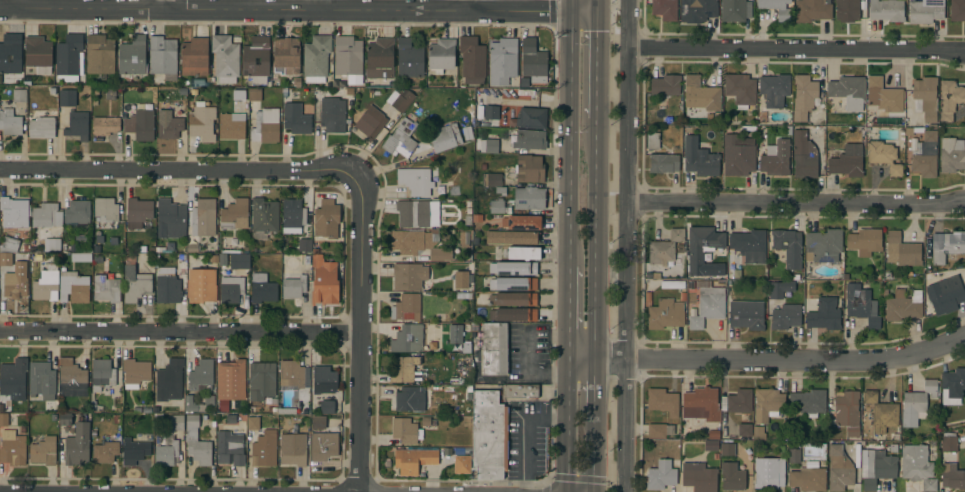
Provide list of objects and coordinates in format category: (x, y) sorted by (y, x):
road: (11, 4)
road: (169, 4)
road: (320, 4)
road: (469, 5)
road: (571, 6)
road: (596, 6)
road: (285, 8)
building: (664, 9)
building: (697, 10)
building: (735, 10)
building: (812, 10)
building: (849, 10)
building: (886, 10)
building: (957, 10)
building: (925, 11)
road: (583, 12)
building: (783, 15)
road: (798, 48)
building: (10, 54)
building: (37, 54)
building: (100, 54)
building: (68, 55)
building: (162, 55)
building: (286, 55)
building: (441, 55)
building: (132, 56)
building: (194, 57)
building: (225, 58)
building: (347, 58)
building: (379, 58)
building: (315, 59)
building: (409, 59)
building: (256, 60)
building: (472, 60)
building: (502, 61)
building: (532, 61)
road: (595, 66)
building: (297, 82)
building: (523, 83)
building: (665, 85)
building: (774, 89)
building: (740, 90)
building: (847, 92)
building: (110, 93)
building: (703, 94)
building: (19, 95)
building: (238, 95)
building: (254, 95)
building: (883, 96)
building: (803, 97)
building: (926, 97)
building: (66, 98)
building: (422, 99)
building: (949, 99)
building: (400, 100)
building: (434, 103)
building: (490, 112)
building: (332, 114)
building: (531, 118)
building: (296, 119)
building: (10, 122)
building: (202, 123)
building: (370, 123)
building: (77, 125)
building: (105, 125)
building: (140, 125)
building: (168, 125)
building: (231, 126)
building: (265, 126)
building: (42, 128)
building: (402, 138)
building: (444, 138)
road: (570, 139)
building: (529, 140)
building: (652, 141)
building: (489, 146)
building: (924, 155)
building: (951, 155)
building: (738, 156)
building: (804, 156)
building: (883, 157)
building: (699, 158)
building: (775, 158)
building: (846, 162)
building: (663, 163)
road: (177, 169)
building: (529, 169)
building: (417, 180)
building: (492, 180)
building: (500, 191)
building: (529, 198)
road: (797, 203)
building: (495, 206)
building: (108, 210)
building: (76, 212)
building: (14, 213)
building: (138, 213)
building: (412, 213)
building: (46, 215)
building: (234, 215)
building: (292, 216)
building: (203, 218)
building: (264, 218)
building: (476, 218)
building: (170, 219)
building: (326, 219)
building: (467, 221)
building: (522, 222)
building: (511, 237)
building: (463, 238)
road: (594, 239)
building: (475, 241)
building: (864, 241)
building: (418, 243)
building: (304, 244)
building: (9, 245)
building: (54, 245)
building: (749, 245)
building: (823, 245)
building: (946, 245)
road: (628, 246)
building: (701, 246)
building: (170, 247)
building: (788, 247)
building: (192, 249)
building: (31, 250)
building: (665, 250)
building: (902, 250)
building: (245, 251)
building: (252, 251)
building: (520, 253)
building: (37, 257)
building: (83, 257)
building: (475, 257)
building: (222, 260)
building: (239, 261)
building: (100, 264)
building: (513, 268)
building: (182, 272)
building: (11, 276)
building: (408, 276)
building: (471, 279)
building: (461, 280)
building: (324, 282)
building: (46, 284)
building: (135, 284)
building: (293, 284)
building: (513, 284)
building: (200, 285)
building: (73, 287)
building: (106, 287)
building: (779, 288)
building: (231, 289)
building: (262, 289)
building: (167, 290)
building: (945, 294)
building: (464, 296)
building: (513, 299)
building: (707, 304)
building: (859, 304)
building: (903, 305)
building: (406, 307)
road: (568, 312)
building: (663, 313)
building: (822, 313)
building: (512, 314)
building: (746, 315)
building: (785, 316)
road: (179, 331)
road: (358, 334)
building: (455, 334)
building: (407, 339)
building: (494, 349)
road: (767, 359)
building: (403, 368)
building: (135, 372)
building: (291, 373)
building: (13, 375)
building: (72, 375)
building: (101, 375)
building: (201, 376)
building: (169, 380)
building: (228, 380)
building: (261, 380)
building: (324, 380)
building: (42, 383)
road: (592, 385)
building: (952, 386)
building: (522, 390)
building: (409, 400)
building: (663, 401)
building: (737, 401)
building: (808, 402)
building: (701, 403)
building: (191, 404)
building: (766, 404)
building: (916, 404)
building: (92, 406)
building: (327, 407)
building: (1, 408)
building: (844, 411)
building: (289, 412)
building: (881, 413)
building: (54, 418)
building: (3, 419)
building: (64, 419)
building: (318, 422)
building: (173, 423)
building: (253, 423)
road: (567, 424)
building: (404, 430)
building: (659, 430)
building: (744, 430)
building: (757, 432)
building: (488, 435)
building: (713, 435)
building: (196, 442)
building: (948, 442)
building: (710, 445)
building: (77, 446)
building: (323, 446)
building: (12, 447)
building: (229, 448)
building: (264, 449)
building: (292, 449)
building: (727, 449)
building: (165, 450)
building: (43, 451)
building: (105, 452)
building: (134, 452)
road: (591, 452)
building: (793, 456)
building: (413, 460)
building: (461, 465)
building: (917, 466)
building: (876, 467)
building: (839, 469)
building: (768, 474)
building: (661, 475)
building: (732, 476)
building: (952, 476)
building: (698, 477)
building: (807, 479)

